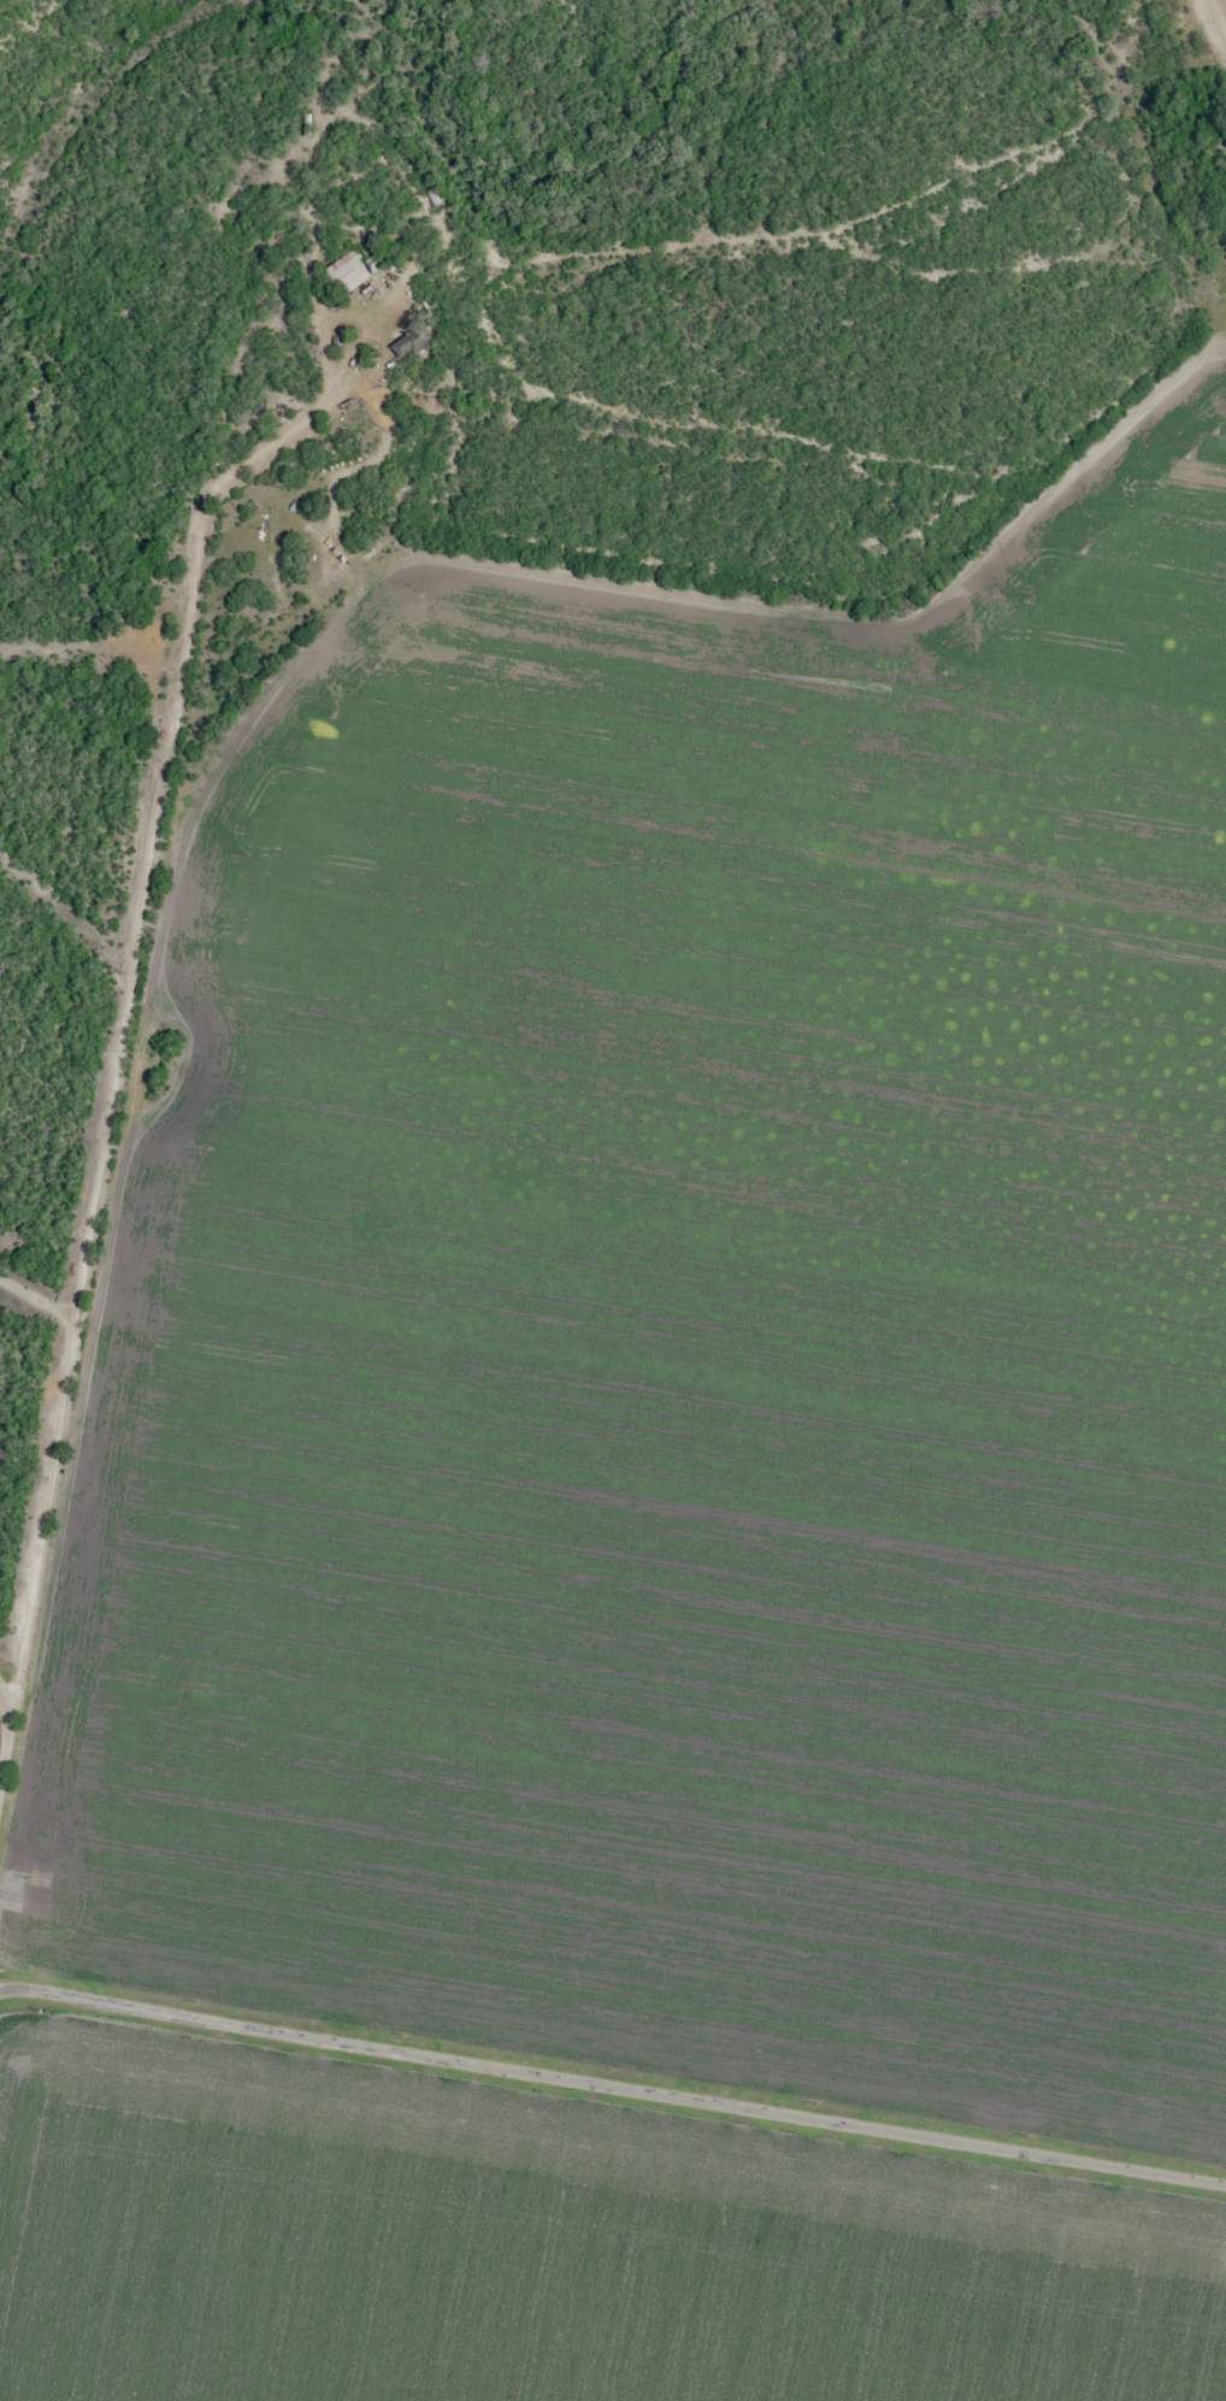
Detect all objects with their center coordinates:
building: (342, 272)
building: (408, 340)
road: (114, 1043)
road: (613, 2085)

